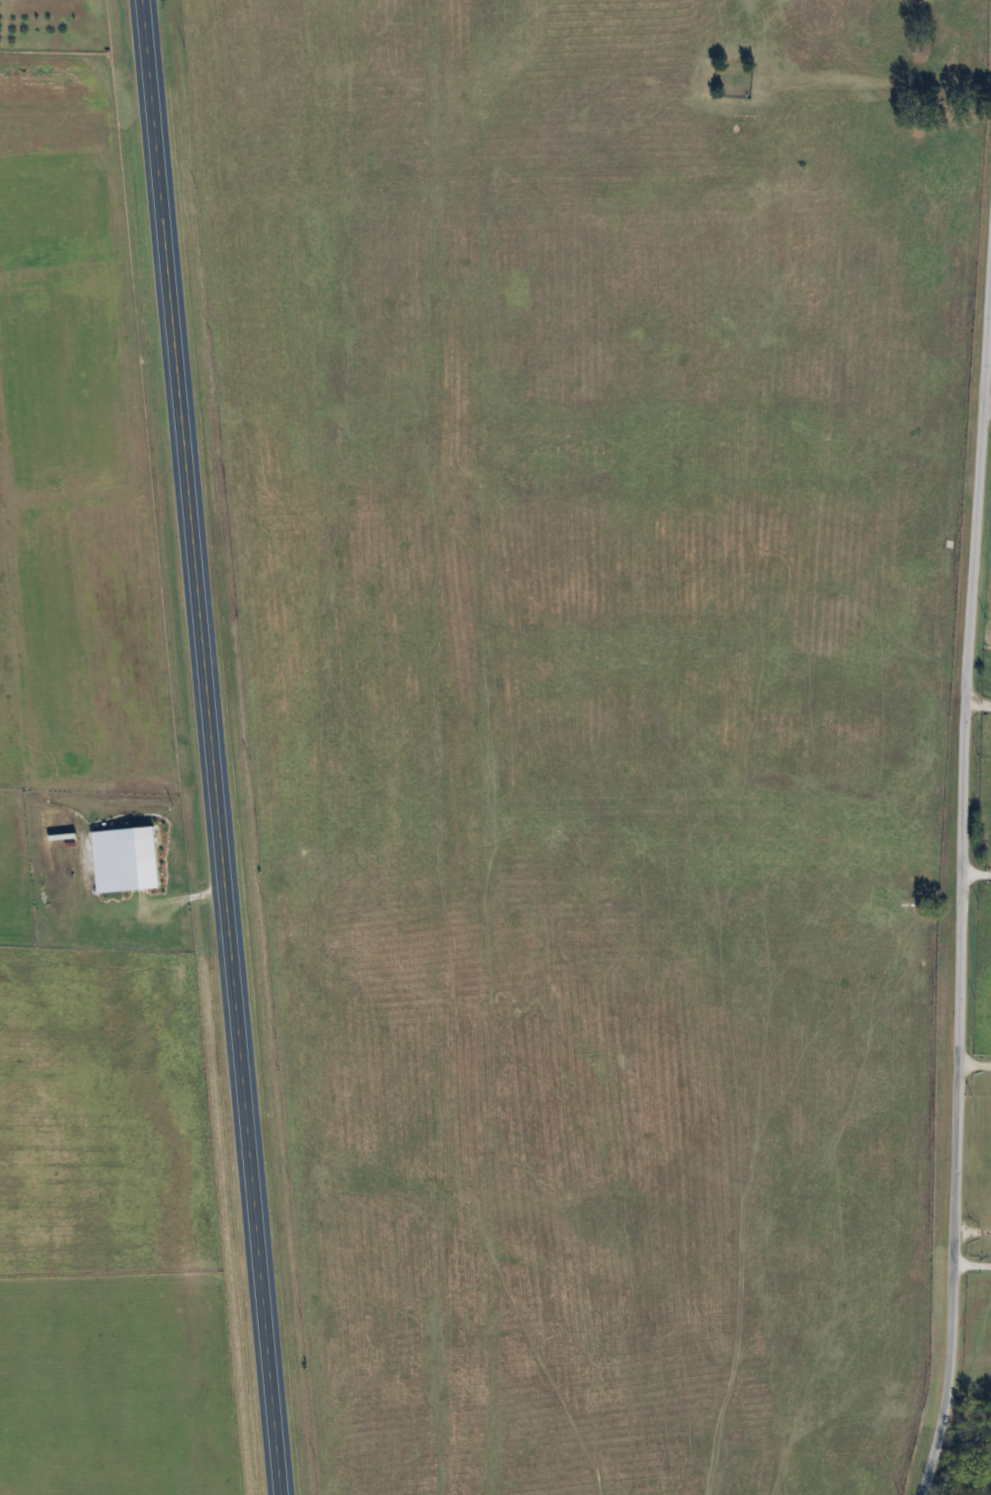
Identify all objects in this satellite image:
park: (733, 77)
road: (987, 405)
road: (978, 703)
road: (211, 747)
building: (127, 855)
road: (976, 871)
road: (961, 883)
road: (971, 1265)

